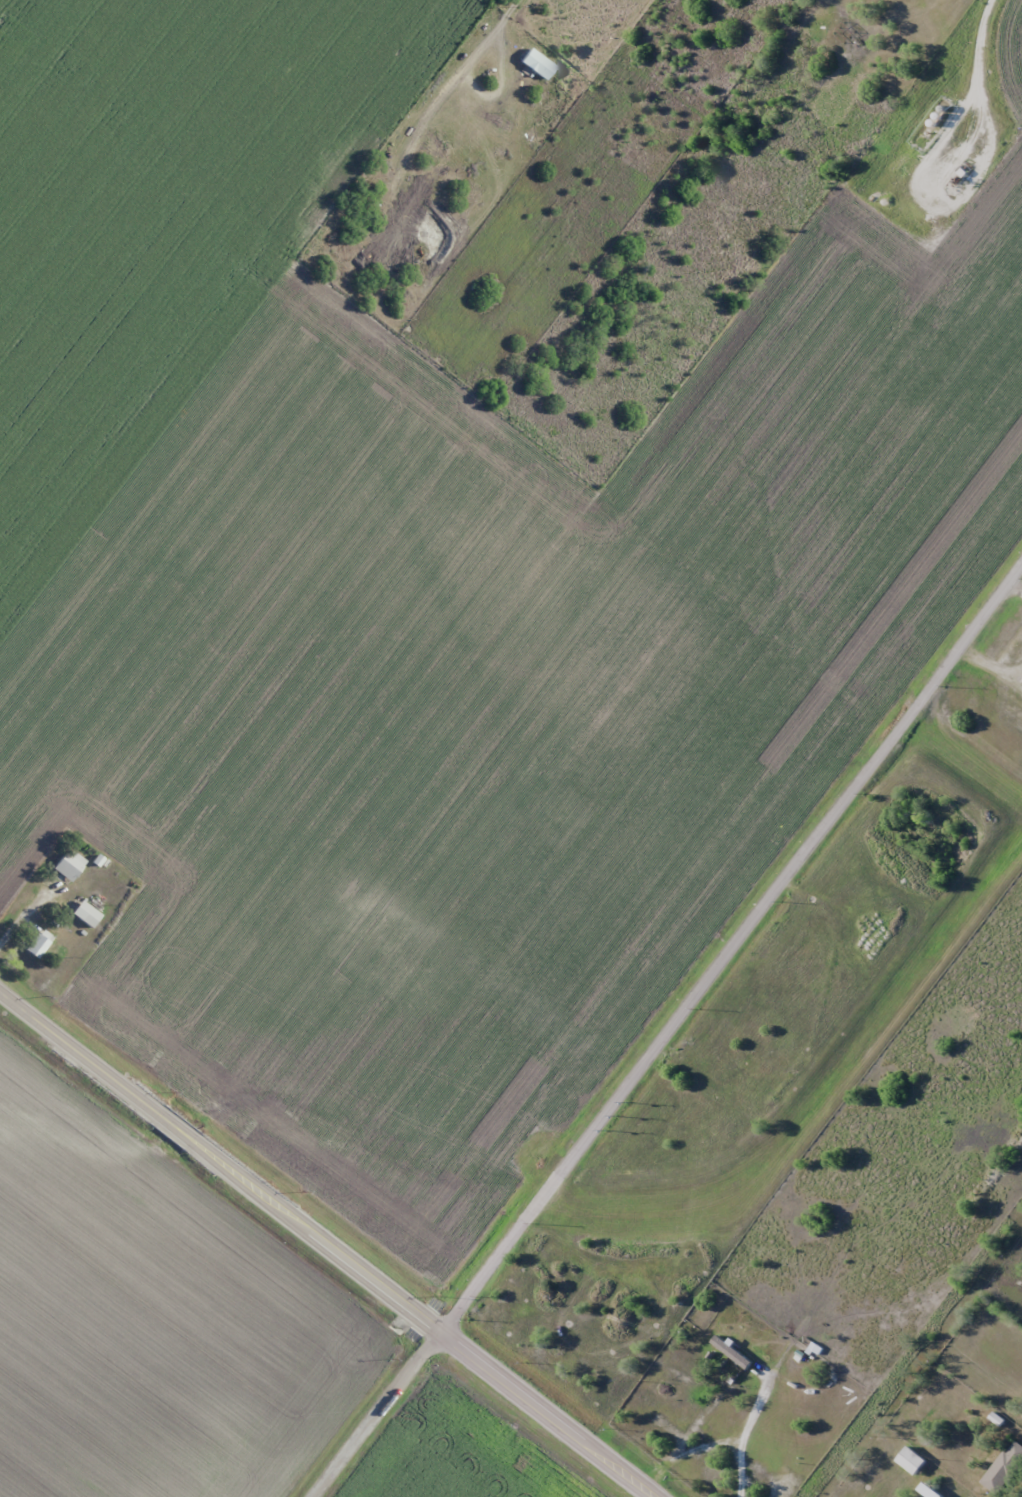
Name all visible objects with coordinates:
building: (68, 865)
building: (85, 914)
building: (38, 943)
road: (669, 1030)
road: (326, 1247)
crop: (152, 1318)
crop: (459, 1453)
building: (911, 1460)
building: (1003, 1468)

